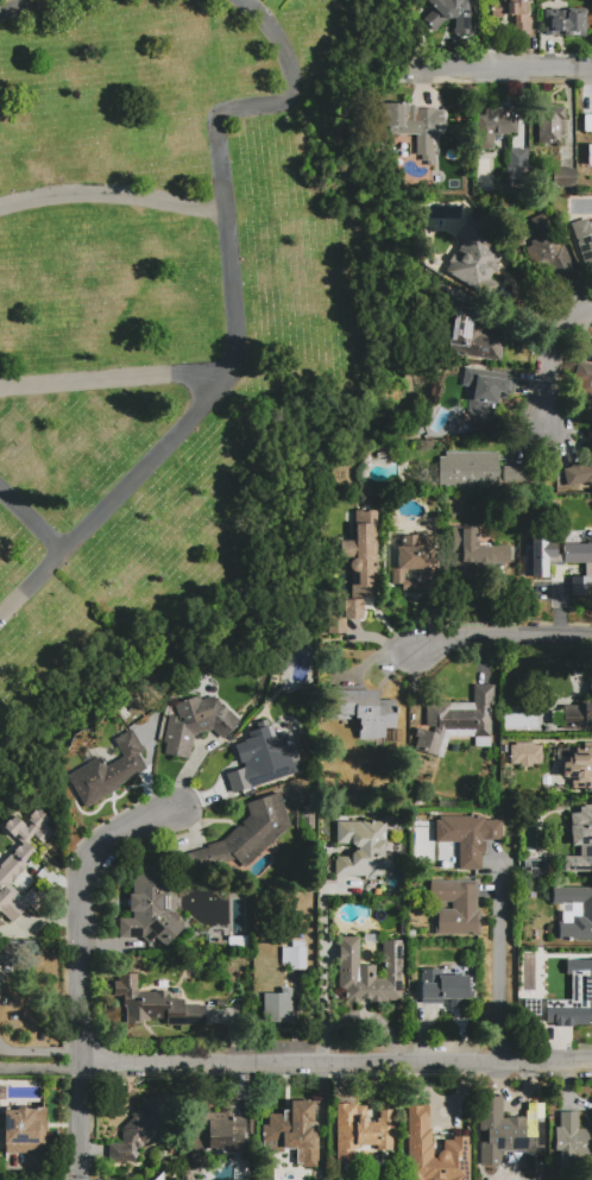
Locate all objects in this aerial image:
road: (17, 4)
building: (585, 11)
building: (512, 13)
building: (452, 14)
building: (563, 15)
road: (500, 65)
building: (586, 121)
building: (496, 122)
building: (549, 122)
building: (414, 125)
building: (588, 153)
building: (518, 168)
building: (563, 176)
road: (112, 195)
building: (584, 240)
building: (546, 250)
building: (473, 263)
road: (231, 316)
park: (157, 327)
building: (472, 336)
road: (554, 347)
building: (584, 377)
road: (116, 380)
building: (486, 393)
building: (477, 469)
building: (579, 472)
road: (30, 518)
building: (364, 549)
building: (560, 553)
building: (476, 554)
building: (411, 562)
building: (345, 616)
road: (500, 641)
building: (370, 708)
building: (577, 715)
building: (458, 720)
building: (195, 724)
building: (262, 749)
building: (524, 753)
building: (579, 768)
building: (105, 771)
building: (307, 814)
building: (246, 835)
building: (465, 838)
building: (580, 840)
building: (361, 847)
building: (20, 864)
building: (536, 867)
building: (456, 907)
building: (150, 909)
building: (586, 909)
building: (238, 942)
building: (297, 954)
building: (5, 957)
building: (588, 959)
road: (503, 963)
road: (78, 965)
building: (370, 972)
road: (323, 983)
building: (442, 986)
building: (568, 992)
building: (147, 1004)
building: (278, 1005)
road: (39, 1050)
road: (335, 1060)
road: (40, 1067)
building: (143, 1127)
building: (24, 1128)
building: (216, 1130)
building: (296, 1130)
building: (361, 1130)
building: (509, 1135)
building: (571, 1142)
building: (432, 1150)
road: (39, 1169)
building: (140, 1174)

